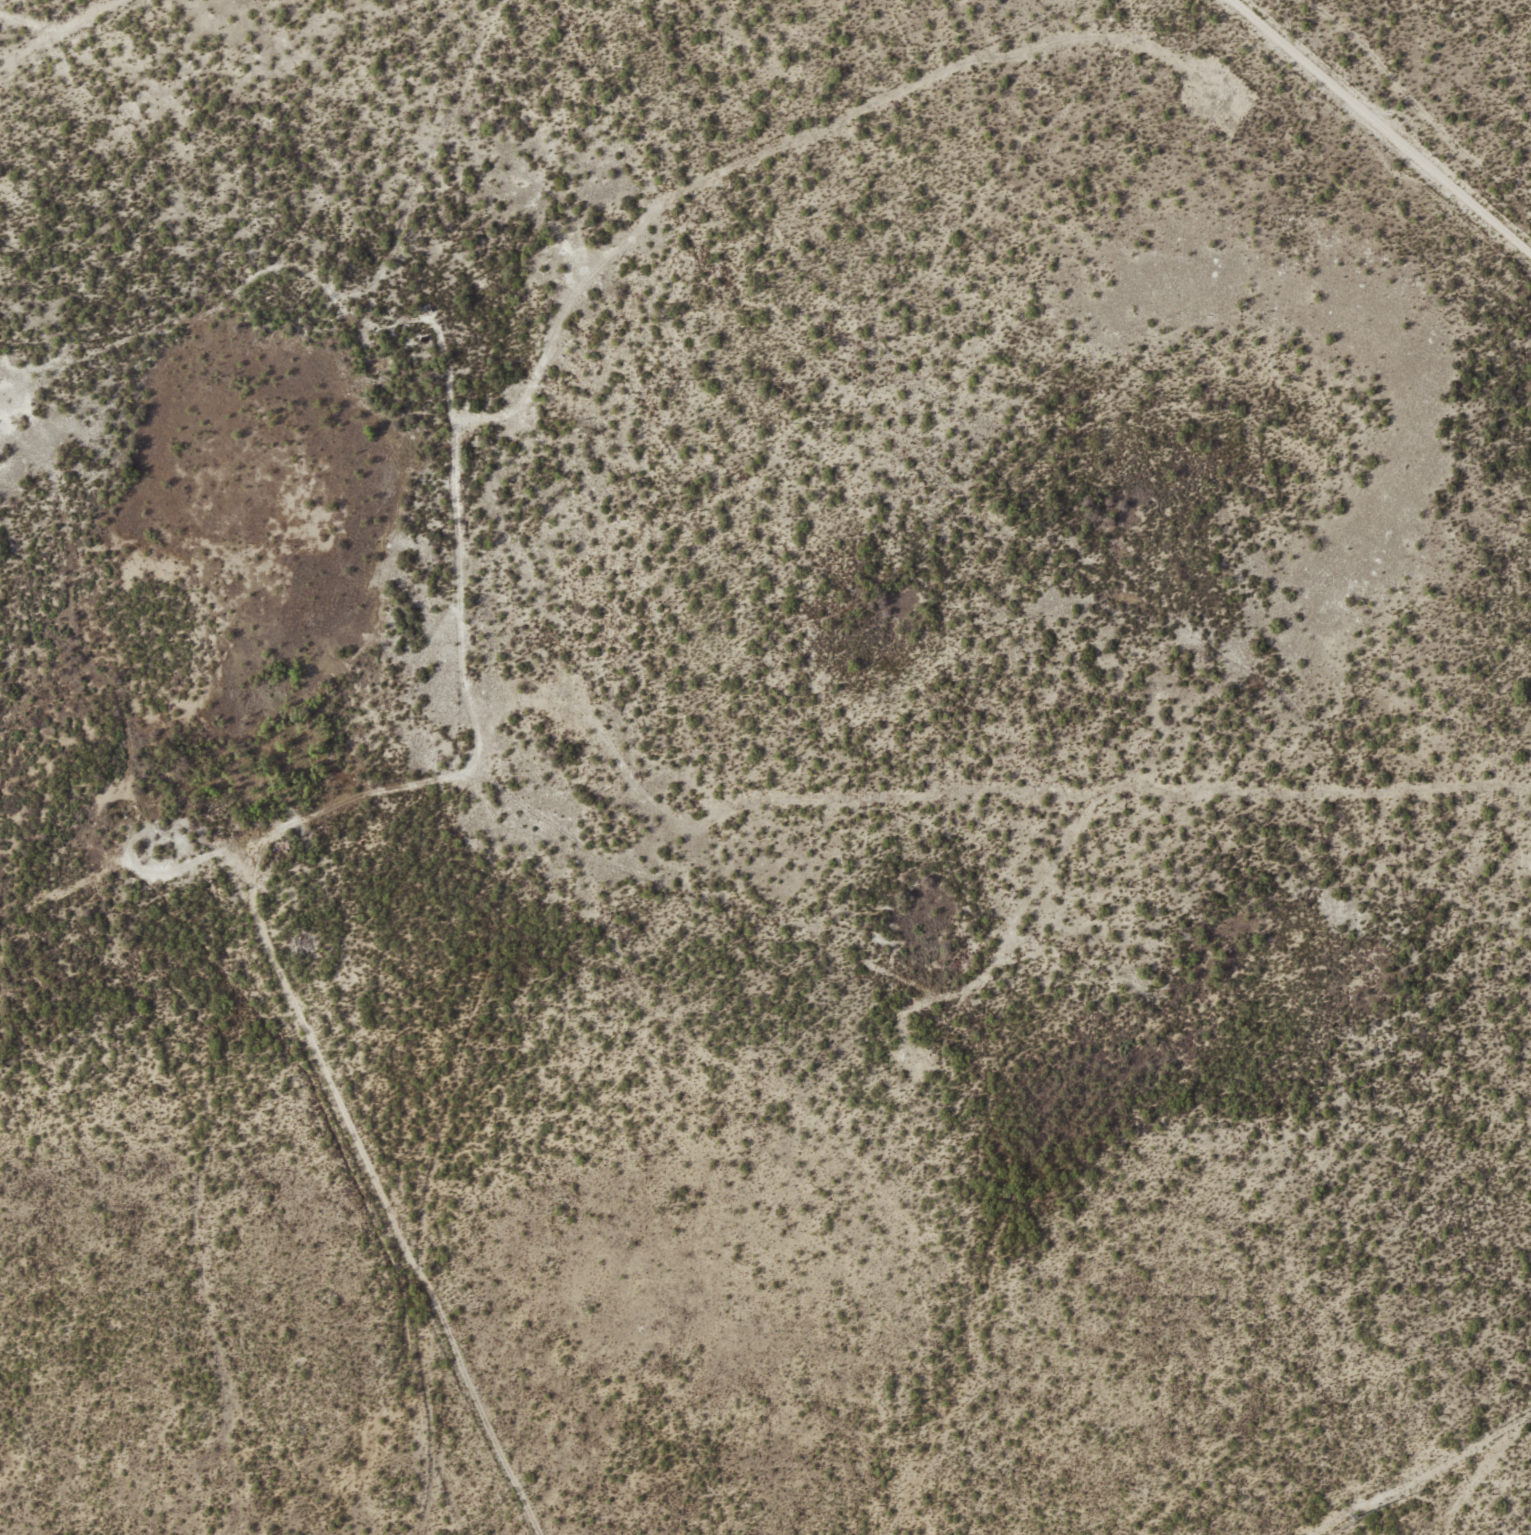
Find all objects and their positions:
road: (452, 777)
power tower: (1358, 1516)

